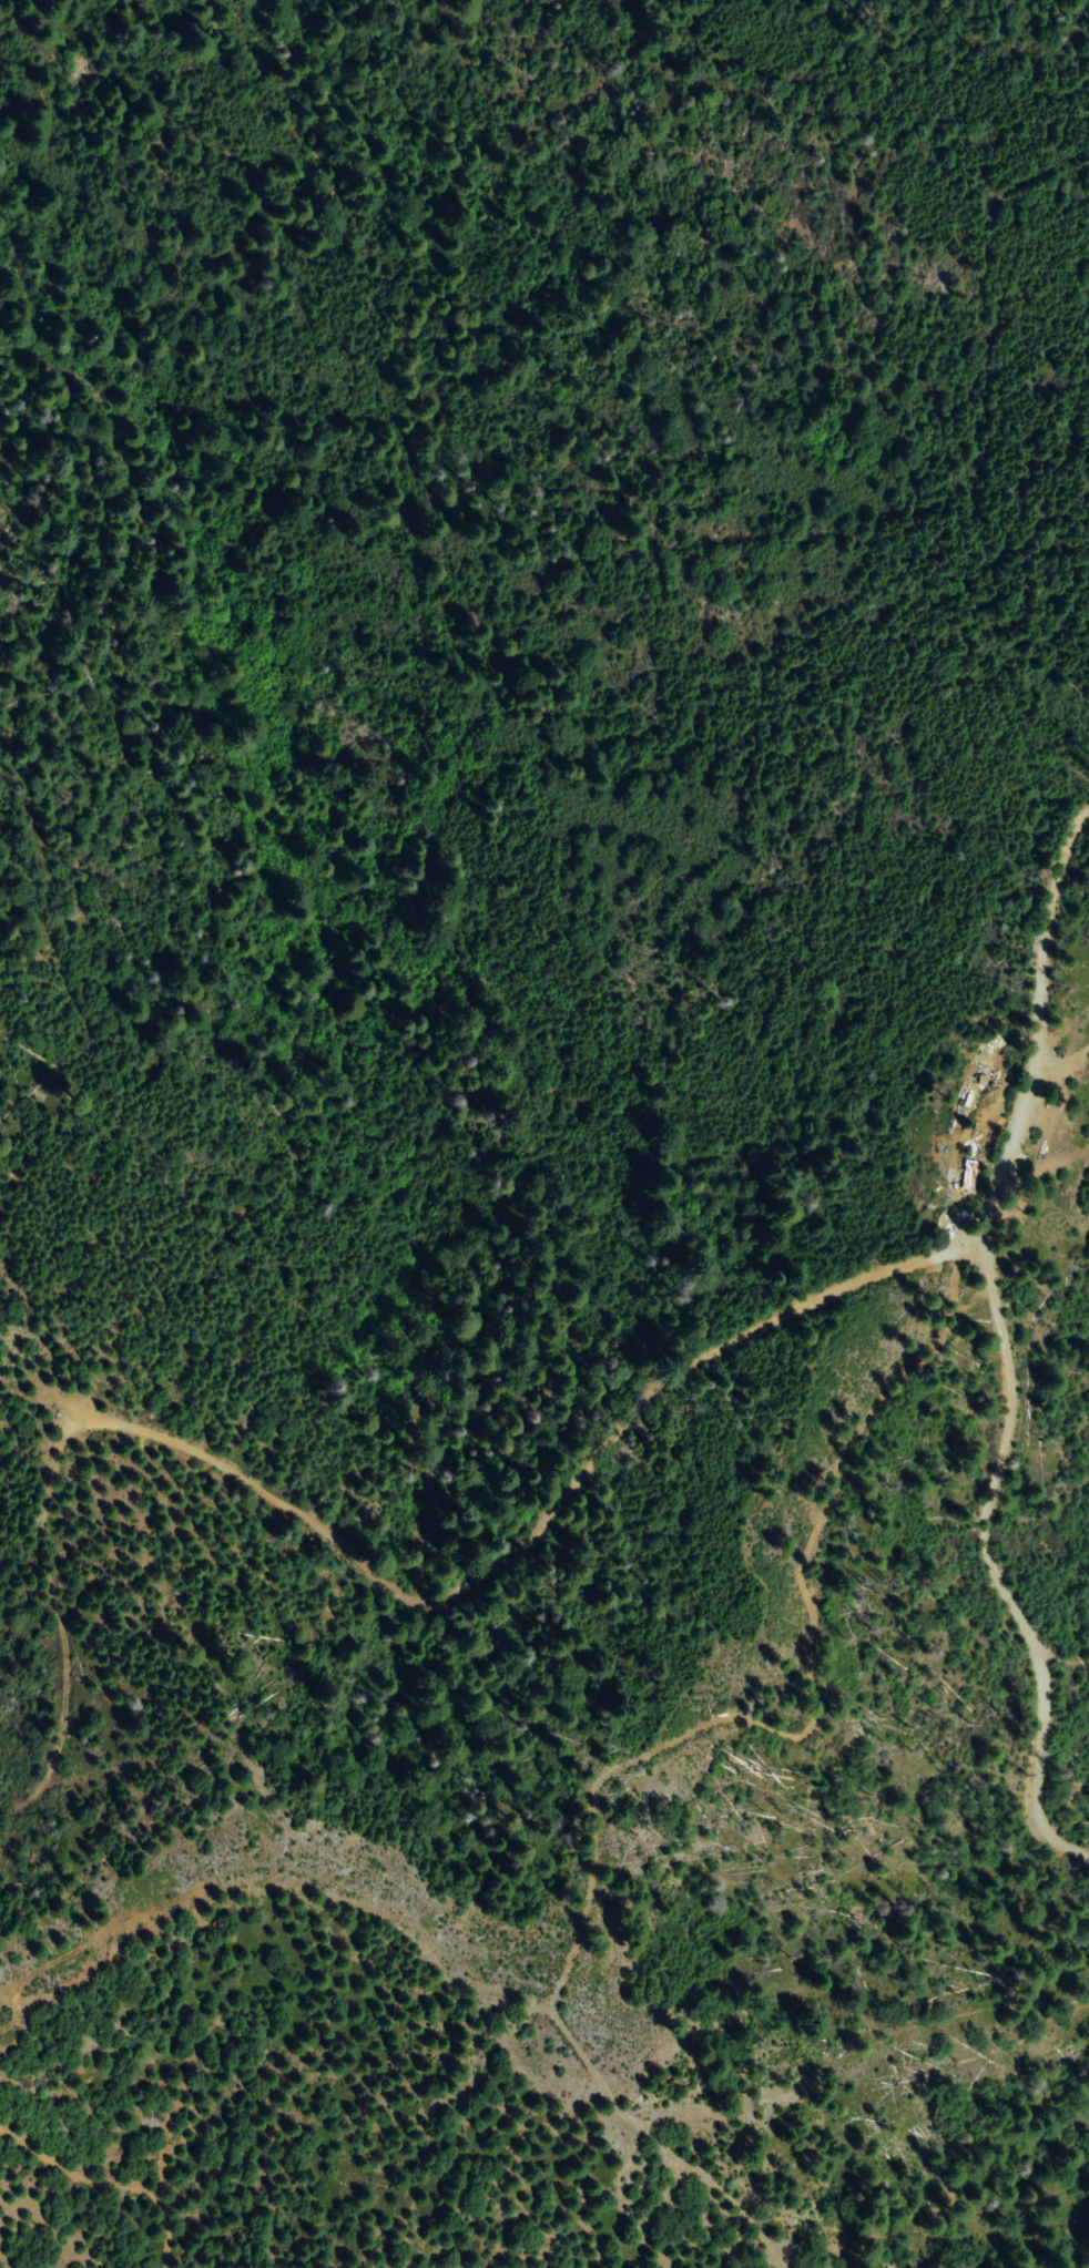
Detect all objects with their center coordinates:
road: (1066, 1074)
building: (984, 1081)
building: (984, 1091)
building: (968, 1101)
road: (1016, 1356)

